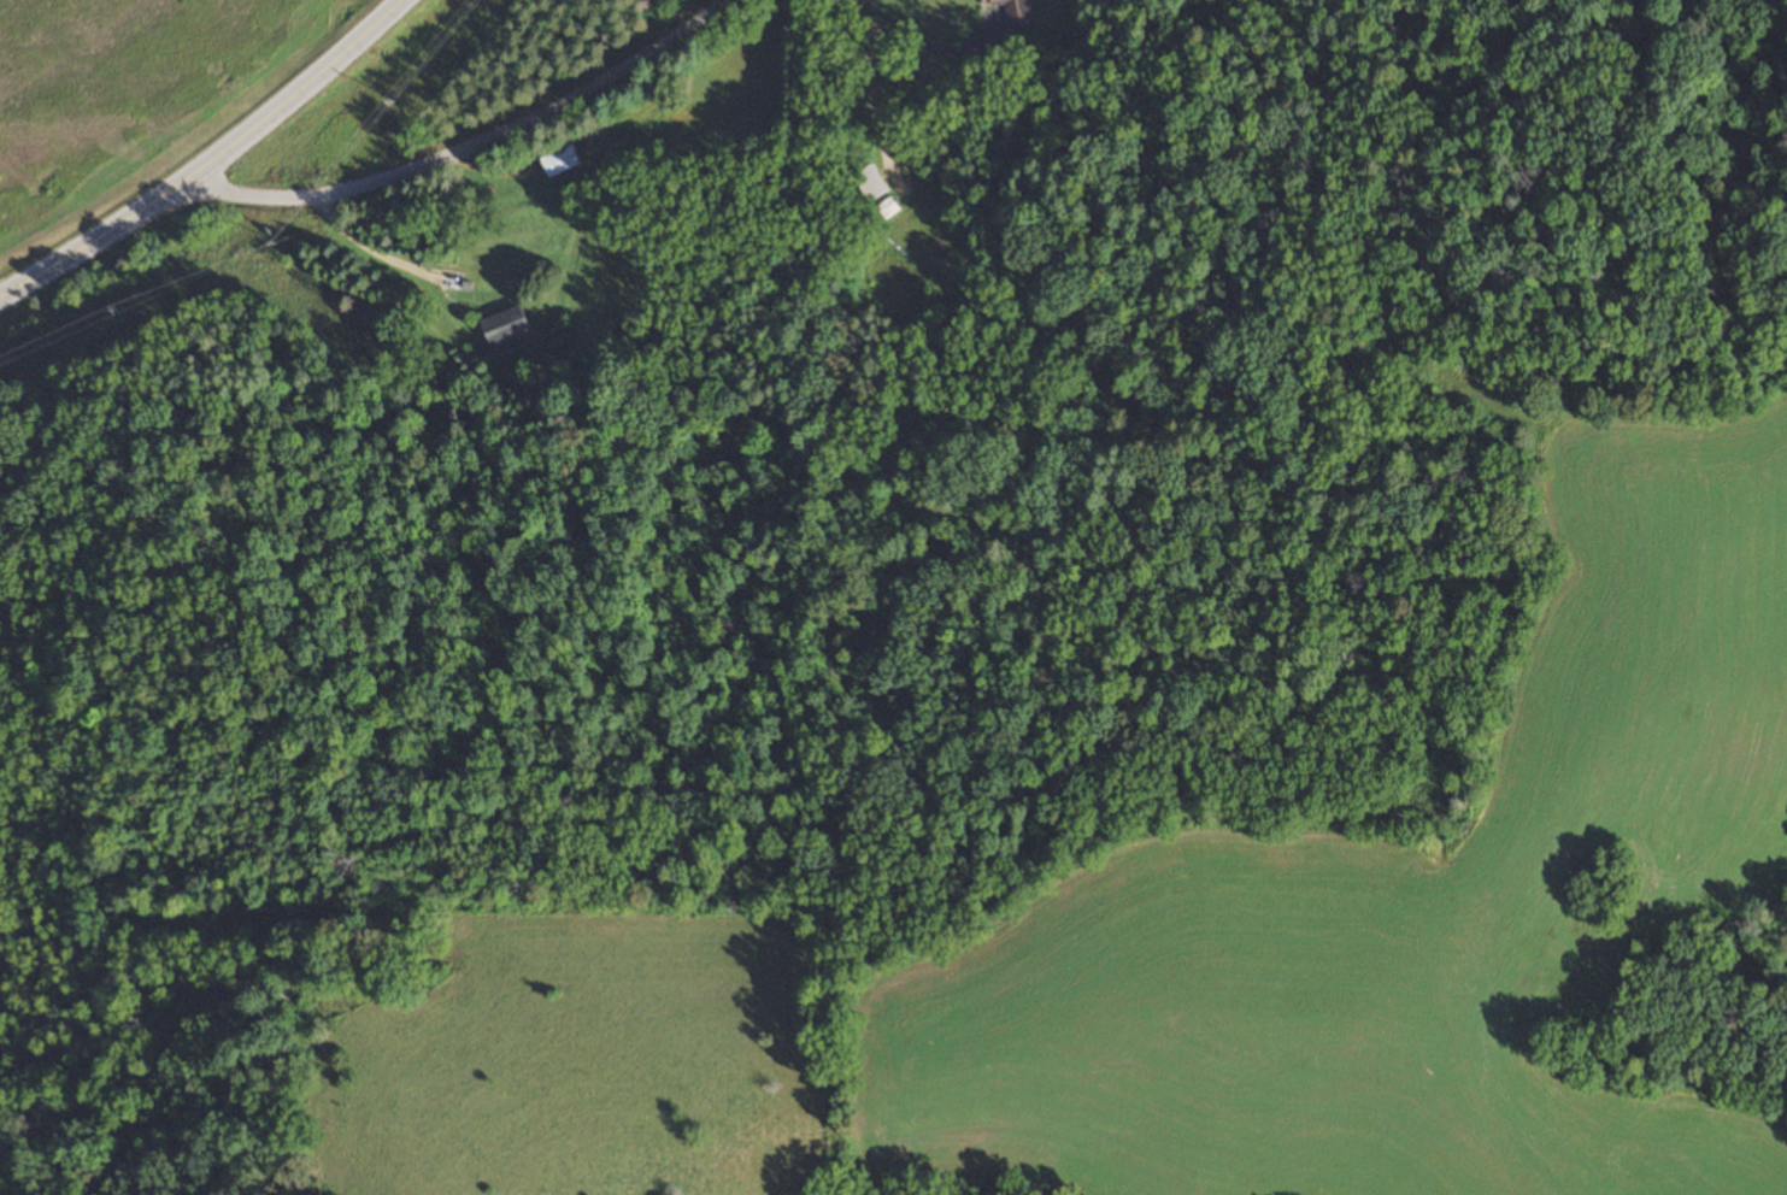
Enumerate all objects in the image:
building: (1013, 10)
road: (468, 151)
building: (560, 161)
road: (212, 164)
building: (871, 182)
road: (376, 253)
building: (506, 326)

